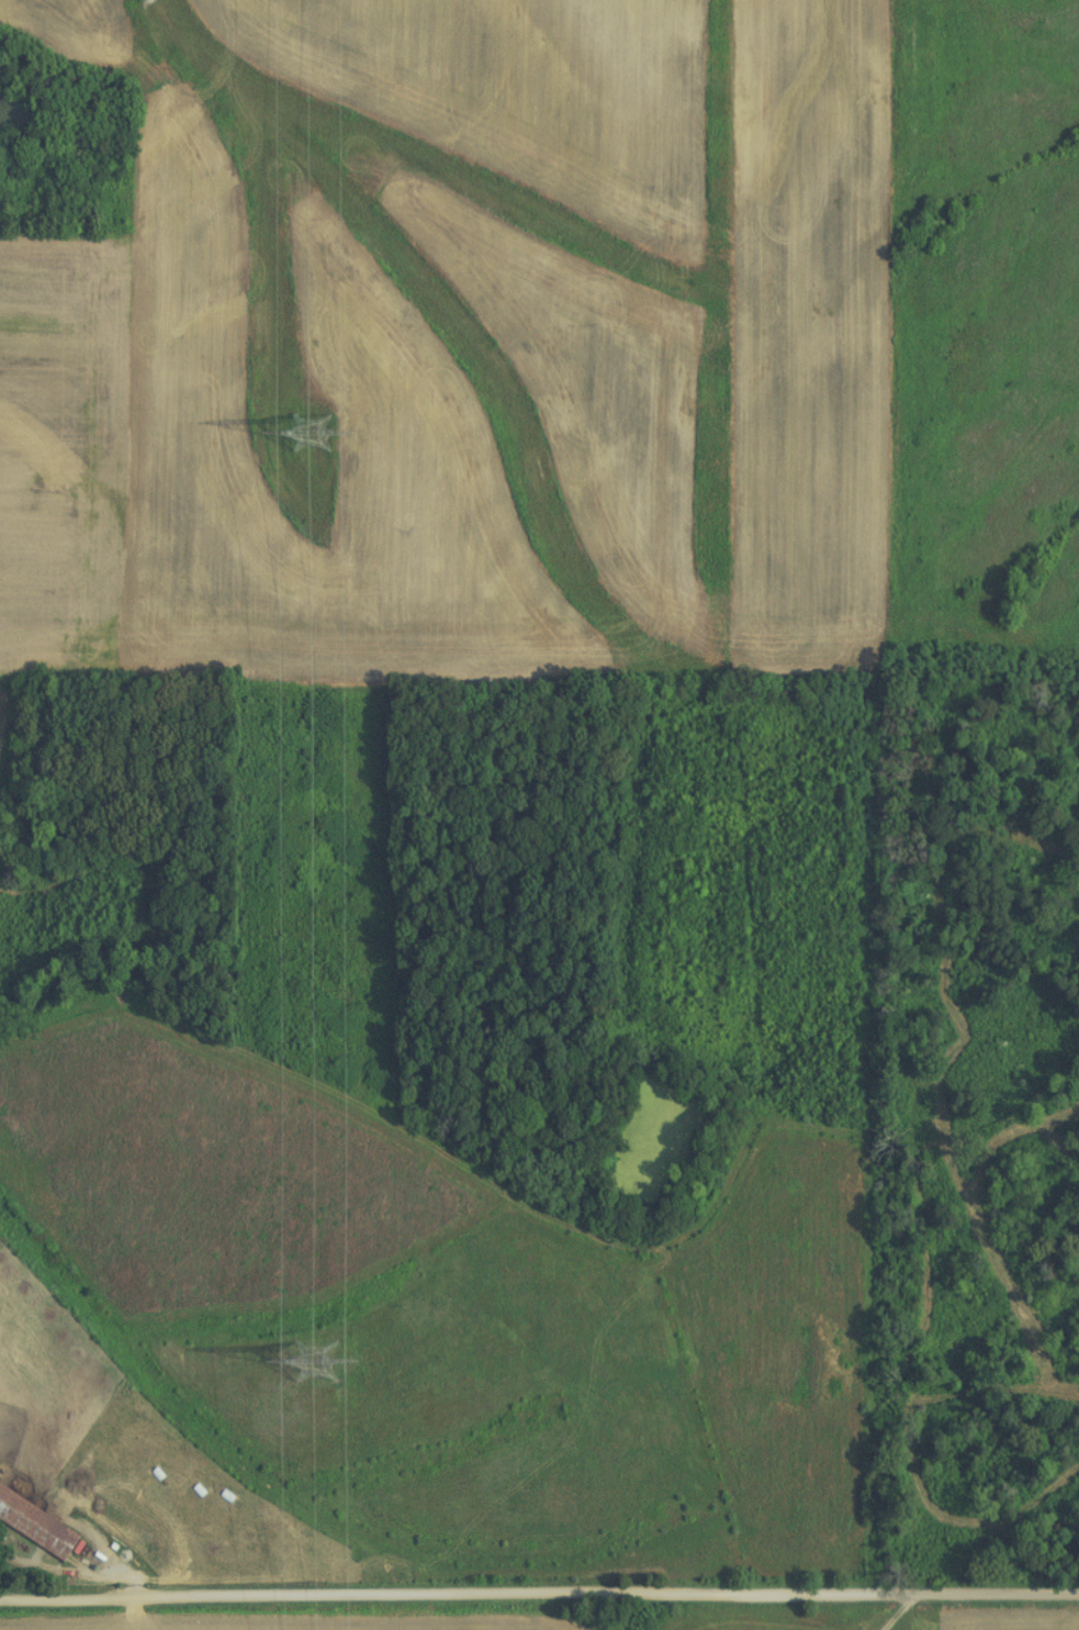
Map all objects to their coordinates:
power tower: (305, 434)
power tower: (312, 1364)
building: (37, 1522)
road: (700, 1592)
road: (161, 1600)
road: (902, 1610)

